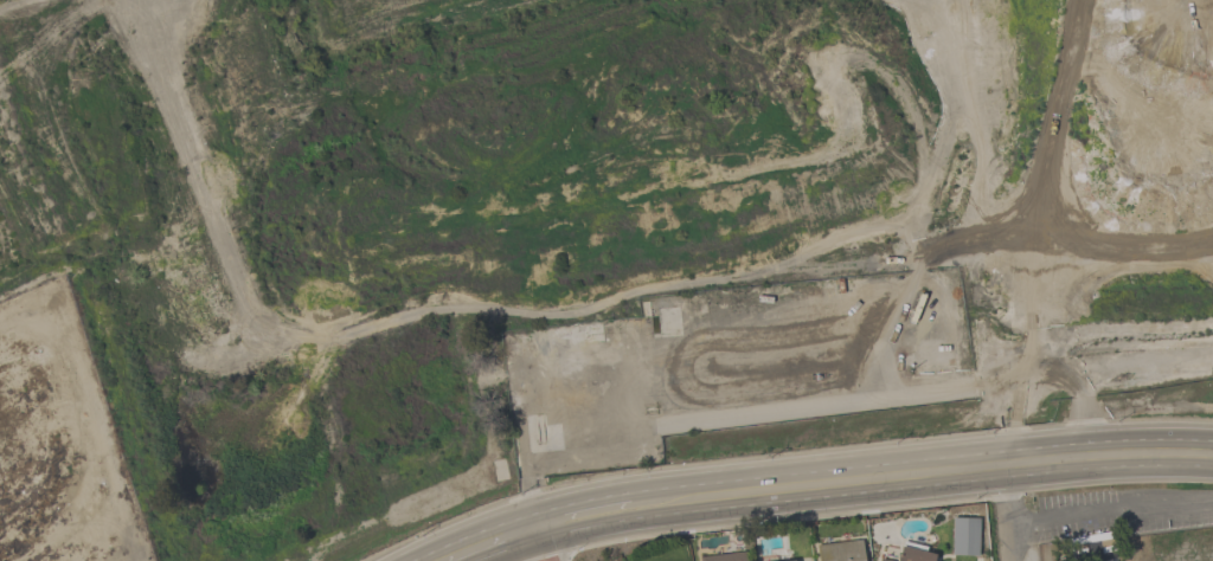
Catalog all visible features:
road: (946, 457)
road: (648, 490)
road: (872, 492)
road: (571, 504)
road: (1006, 505)
road: (1110, 512)
road: (532, 528)
road: (486, 530)
building: (964, 536)
building: (1095, 547)
road: (538, 548)
road: (507, 549)
building: (840, 550)
building: (913, 553)
road: (429, 554)
building: (727, 556)
road: (540, 559)
road: (544, 559)

